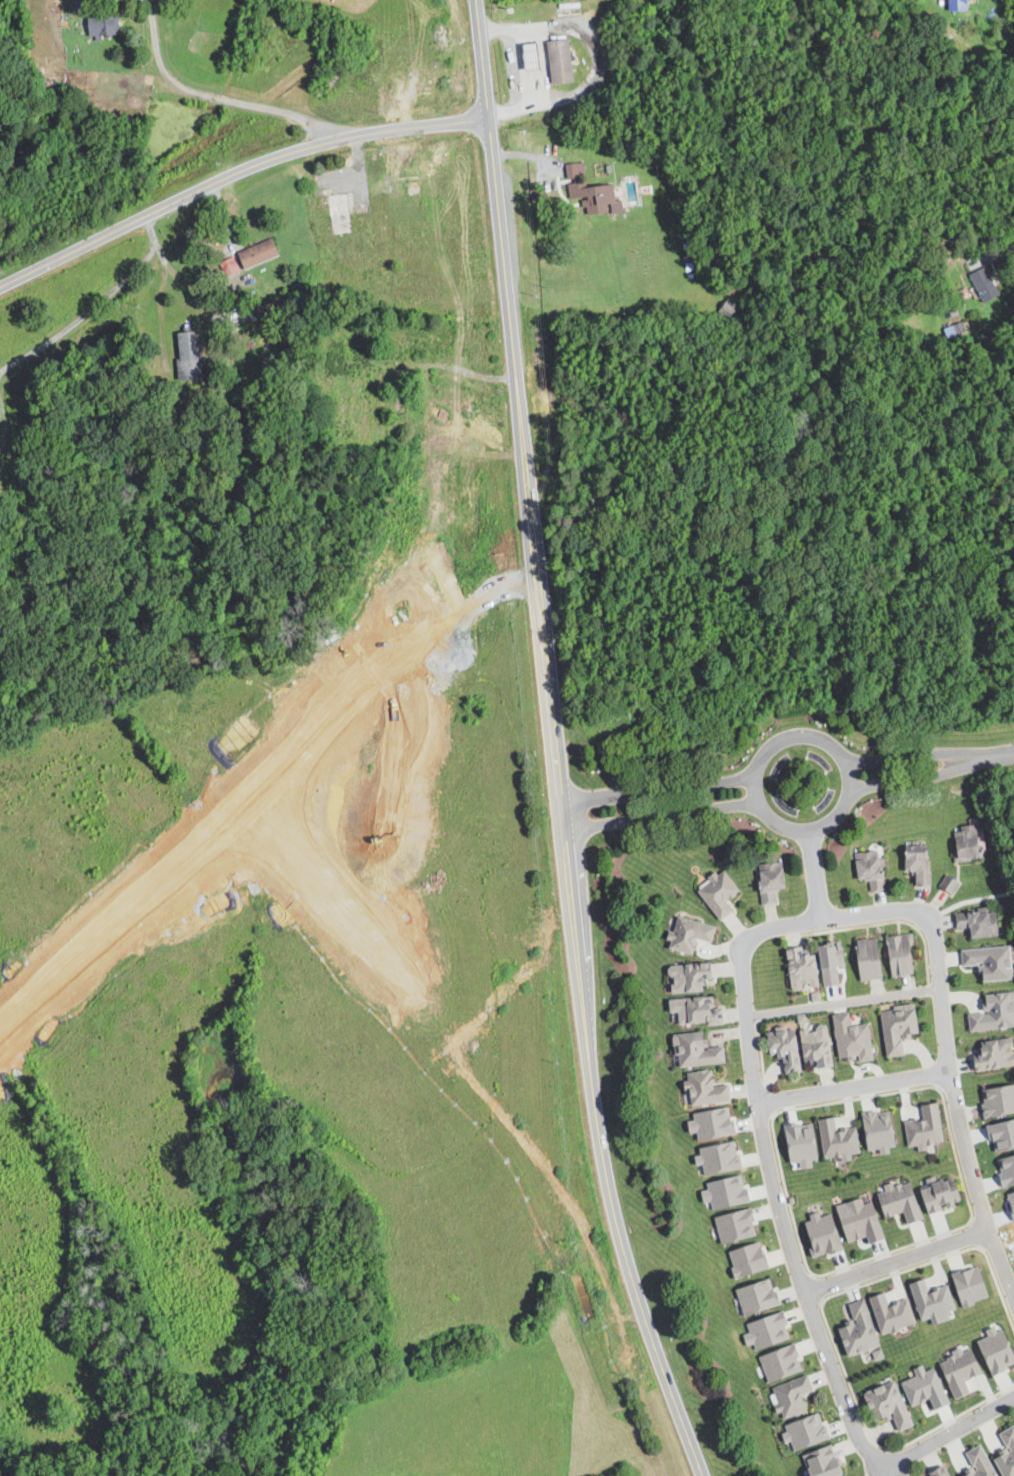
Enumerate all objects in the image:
building: (958, 5)
road: (82, 15)
building: (98, 23)
road: (596, 58)
building: (556, 59)
road: (514, 67)
road: (213, 97)
road: (234, 173)
road: (997, 247)
building: (254, 252)
building: (227, 267)
building: (986, 284)
road: (82, 315)
building: (186, 354)
road: (213, 373)
road: (3, 427)
road: (408, 587)
road: (991, 754)
road: (907, 757)
road: (910, 779)
road: (849, 786)
road: (658, 789)
road: (563, 808)
road: (661, 814)
building: (970, 842)
building: (921, 863)
building: (872, 869)
road: (814, 875)
building: (773, 880)
building: (951, 885)
building: (721, 894)
building: (982, 922)
building: (692, 934)
building: (904, 954)
building: (871, 959)
building: (993, 961)
building: (804, 968)
building: (692, 977)
road: (843, 1002)
building: (698, 1011)
building: (995, 1013)
building: (798, 1018)
building: (900, 1027)
building: (855, 1038)
building: (819, 1046)
building: (788, 1048)
building: (698, 1050)
building: (995, 1055)
road: (947, 1057)
road: (852, 1086)
building: (707, 1089)
building: (996, 1100)
road: (519, 1108)
building: (928, 1129)
building: (875, 1130)
building: (840, 1140)
building: (714, 1158)
road: (772, 1177)
building: (944, 1194)
building: (896, 1201)
building: (854, 1221)
building: (732, 1225)
building: (818, 1235)
building: (744, 1259)
road: (896, 1261)
building: (966, 1286)
building: (753, 1296)
building: (928, 1301)
building: (894, 1314)
building: (861, 1330)
building: (992, 1350)
building: (777, 1362)
building: (962, 1371)
building: (795, 1396)
building: (891, 1405)
building: (802, 1432)
road: (952, 1432)
building: (1008, 1454)
building: (818, 1462)
building: (982, 1463)
building: (943, 1472)

